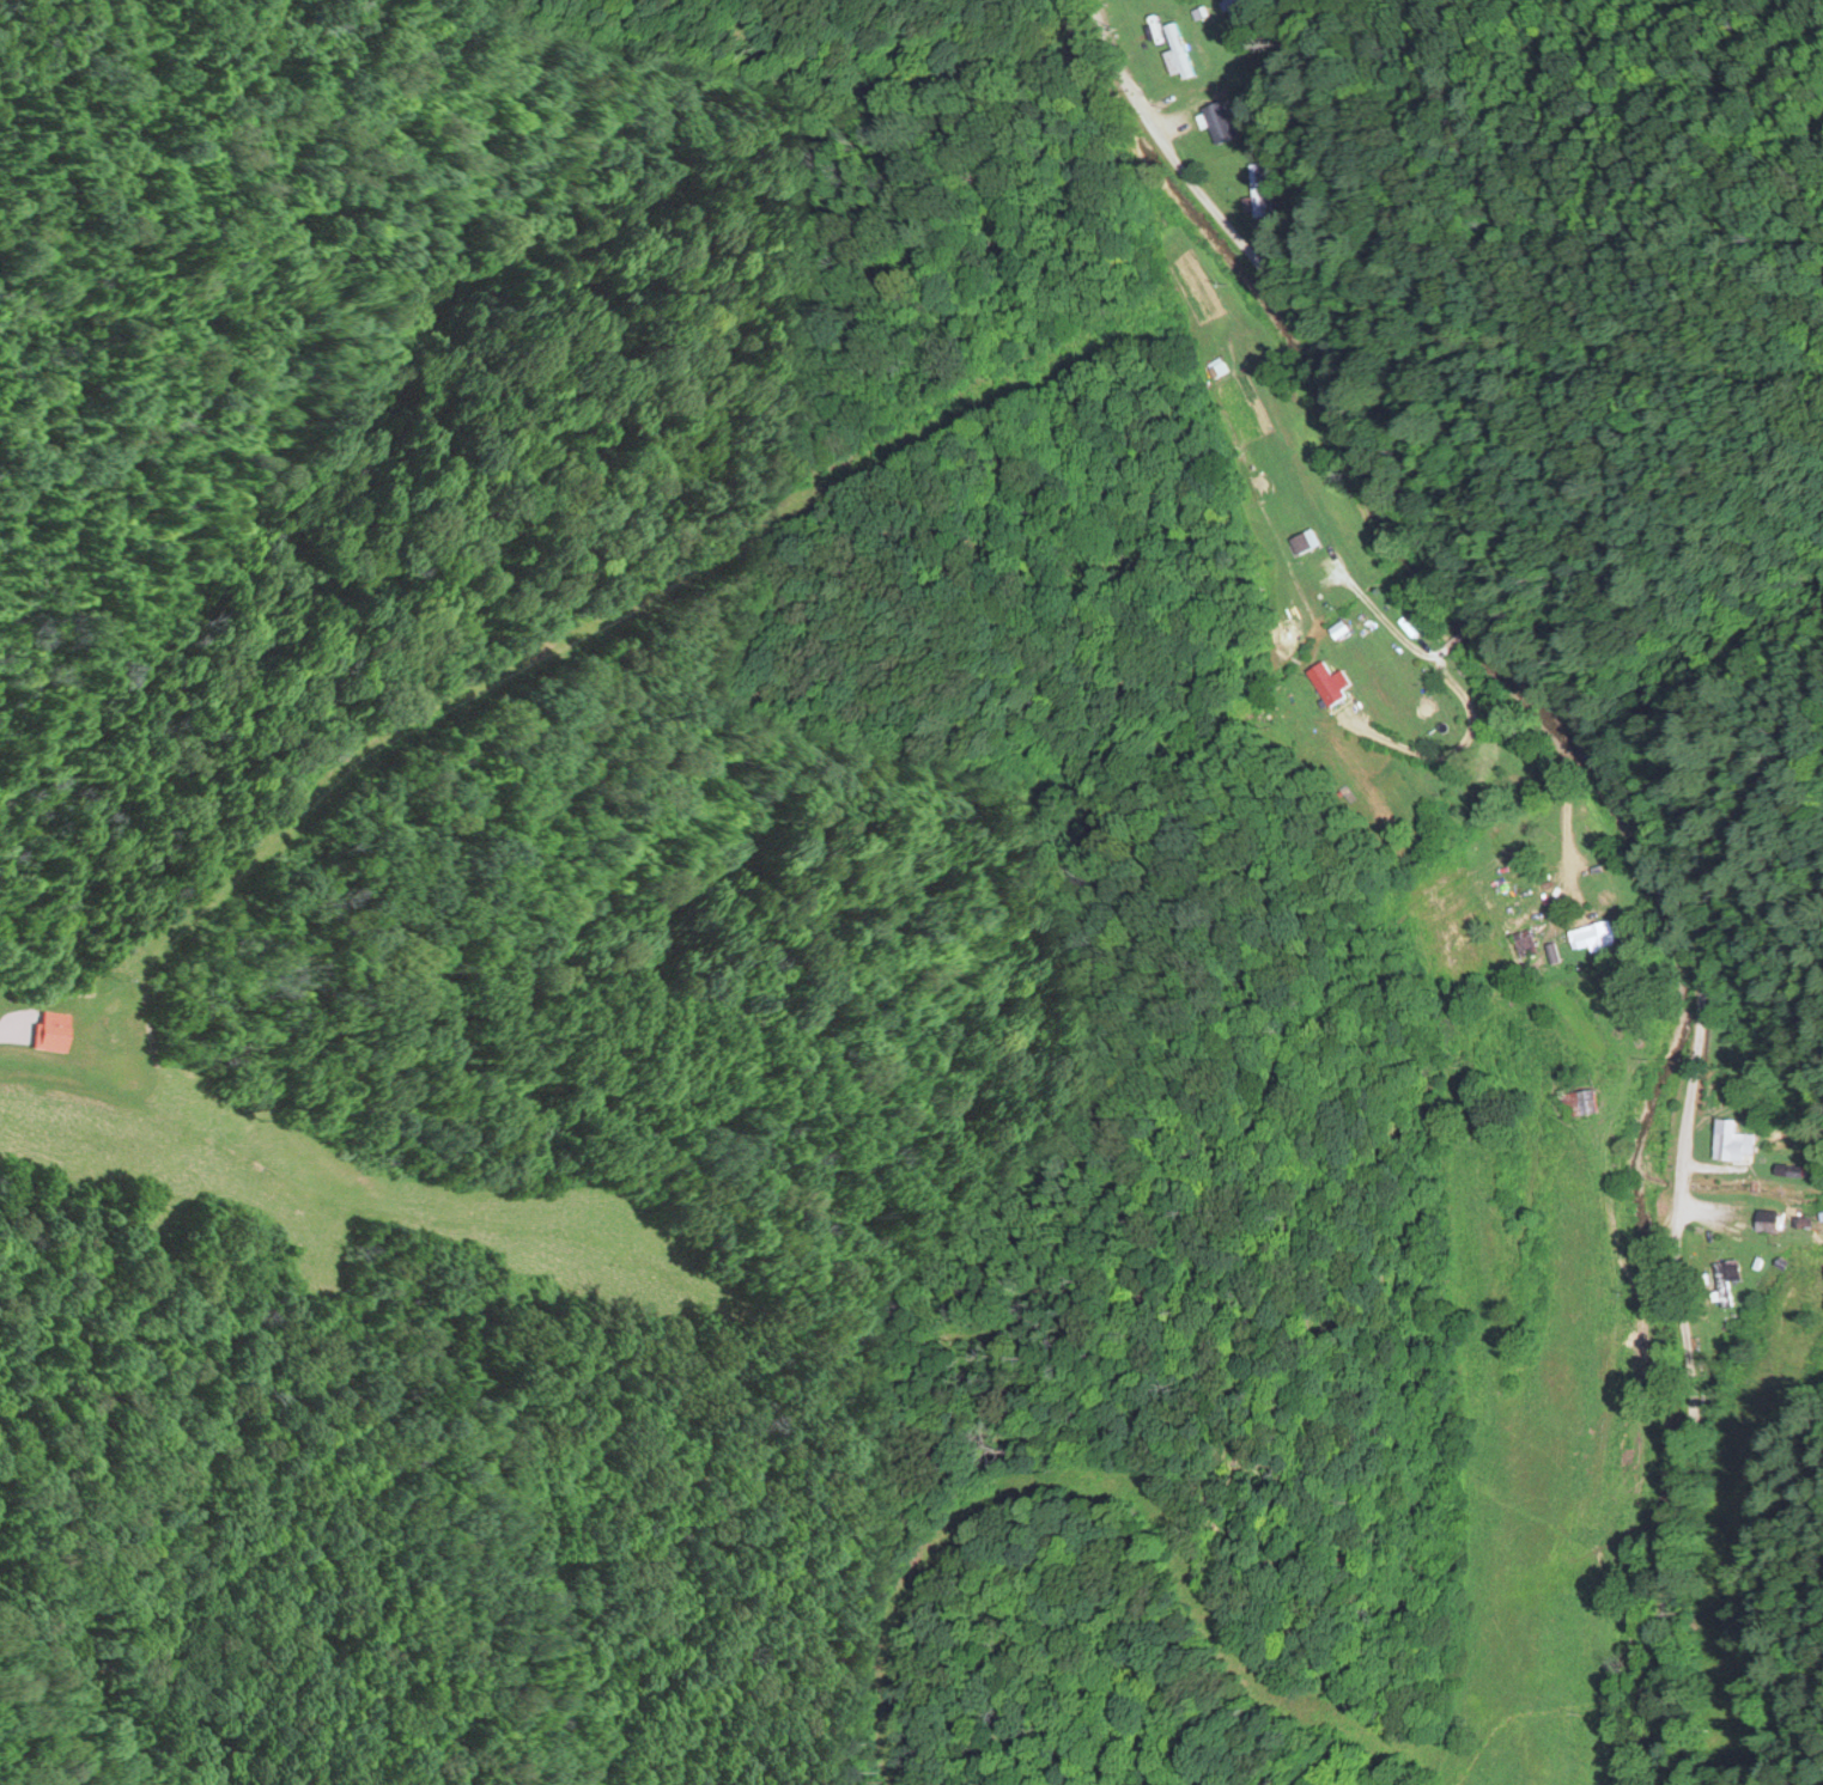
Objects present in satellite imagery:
building: (1174, 49)
building: (1216, 118)
building: (1259, 187)
building: (1228, 390)
building: (1312, 566)
building: (1325, 680)
road: (1537, 833)
building: (1507, 892)
building: (1597, 934)
building: (60, 1030)
building: (1575, 1101)
building: (1731, 1140)
building: (1764, 1219)
building: (1725, 1278)

